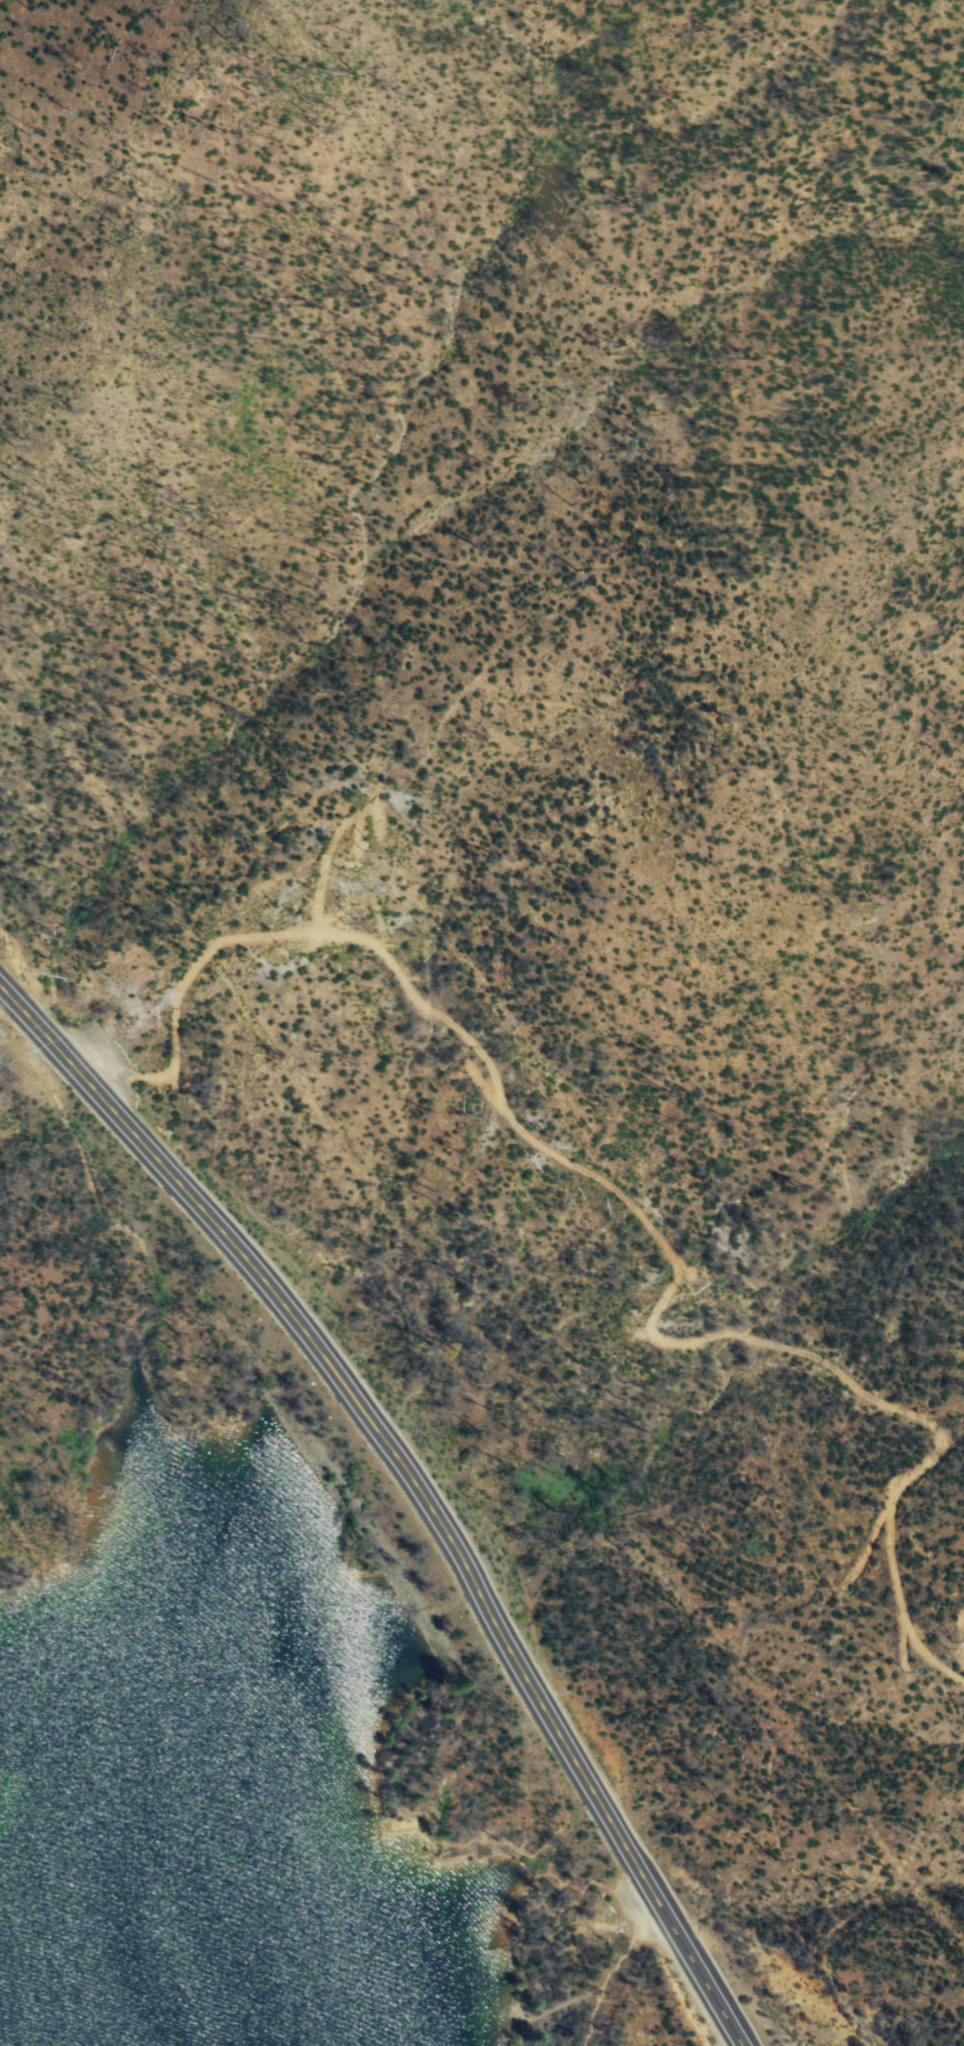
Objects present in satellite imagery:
power tower: (364, 848)
power tower: (346, 913)
power tower: (683, 1288)
road: (416, 1482)
power tower: (953, 1644)

